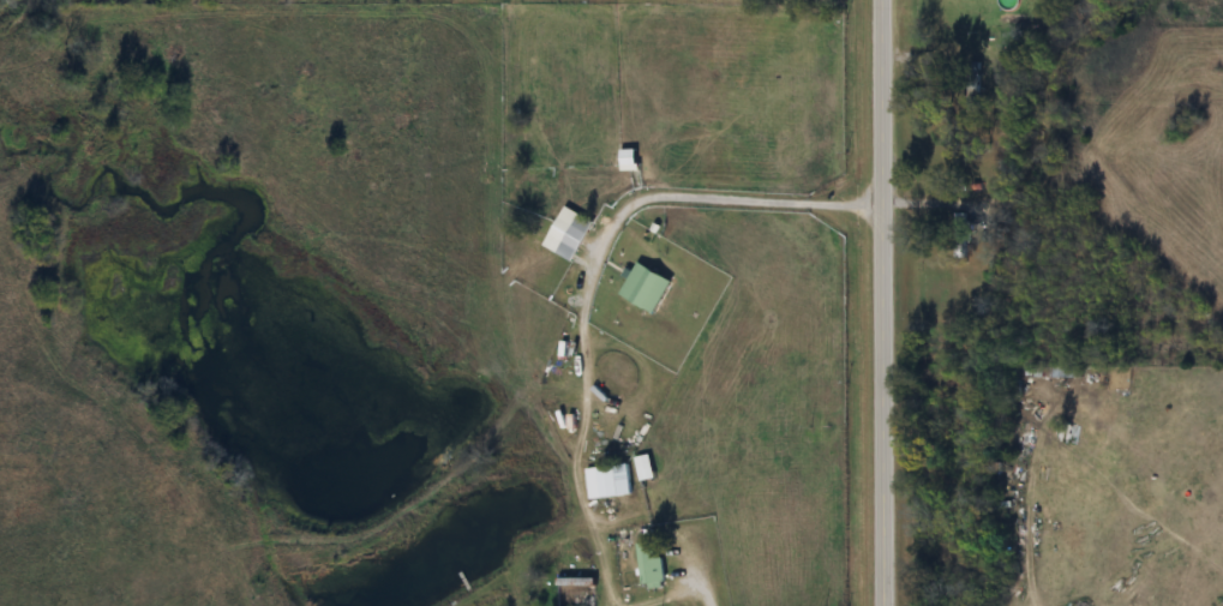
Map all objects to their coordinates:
building: (970, 88)
building: (628, 157)
road: (720, 200)
building: (568, 234)
building: (959, 236)
building: (647, 287)
road: (873, 302)
building: (645, 468)
building: (608, 481)
building: (651, 565)
road: (712, 590)

